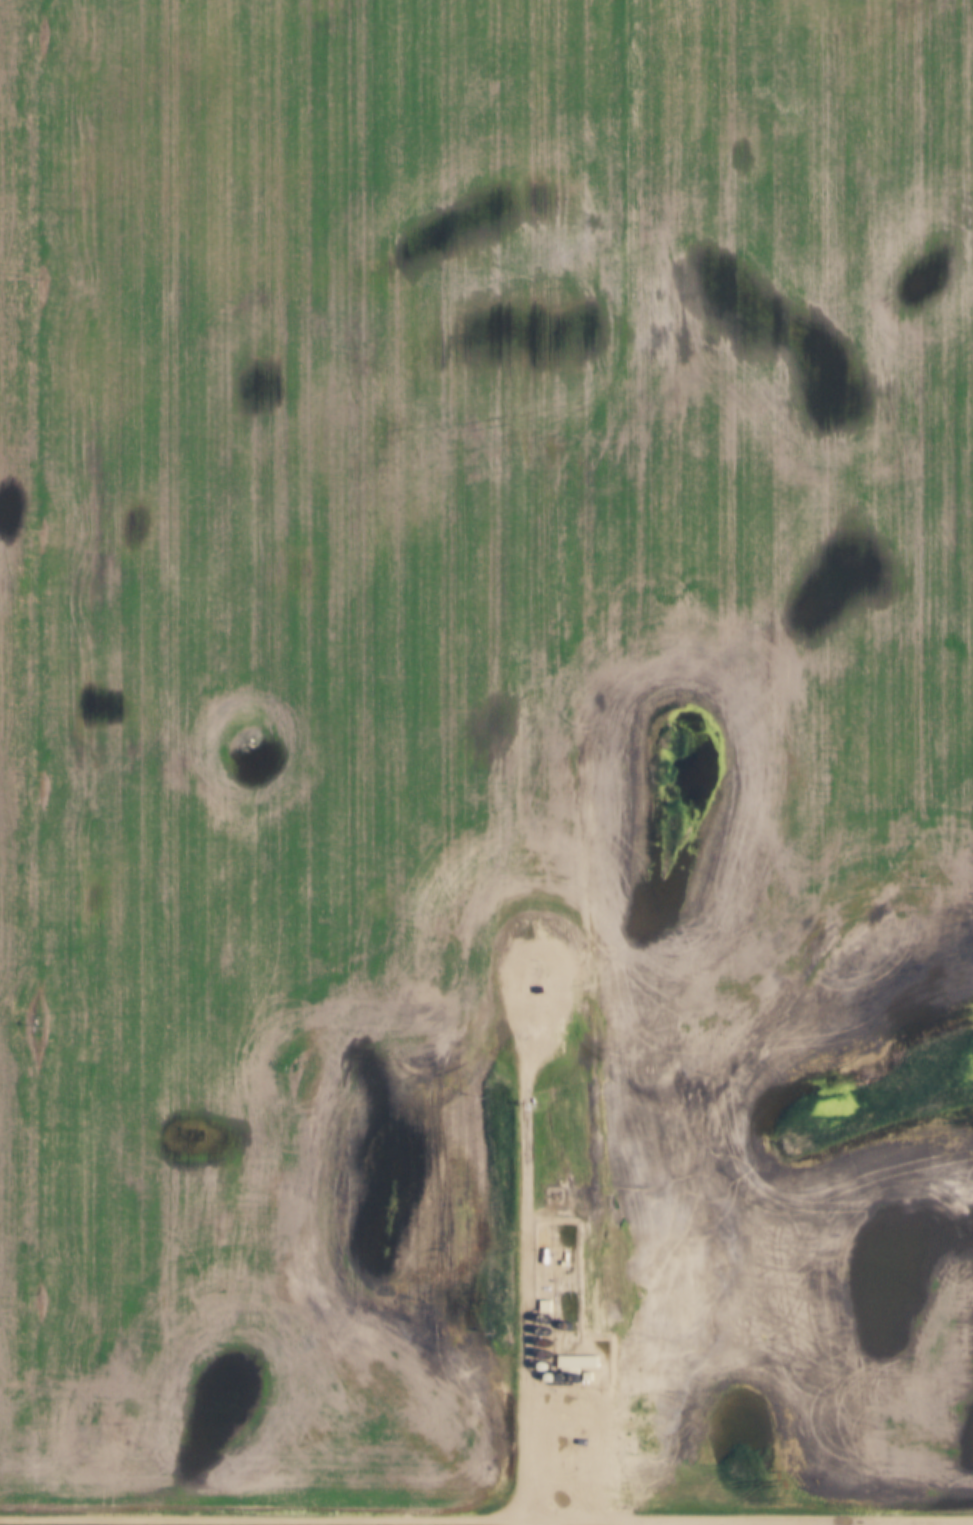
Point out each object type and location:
road: (530, 1282)
building: (544, 1314)
road: (486, 1515)
road: (529, 1520)
road: (651, 1520)

